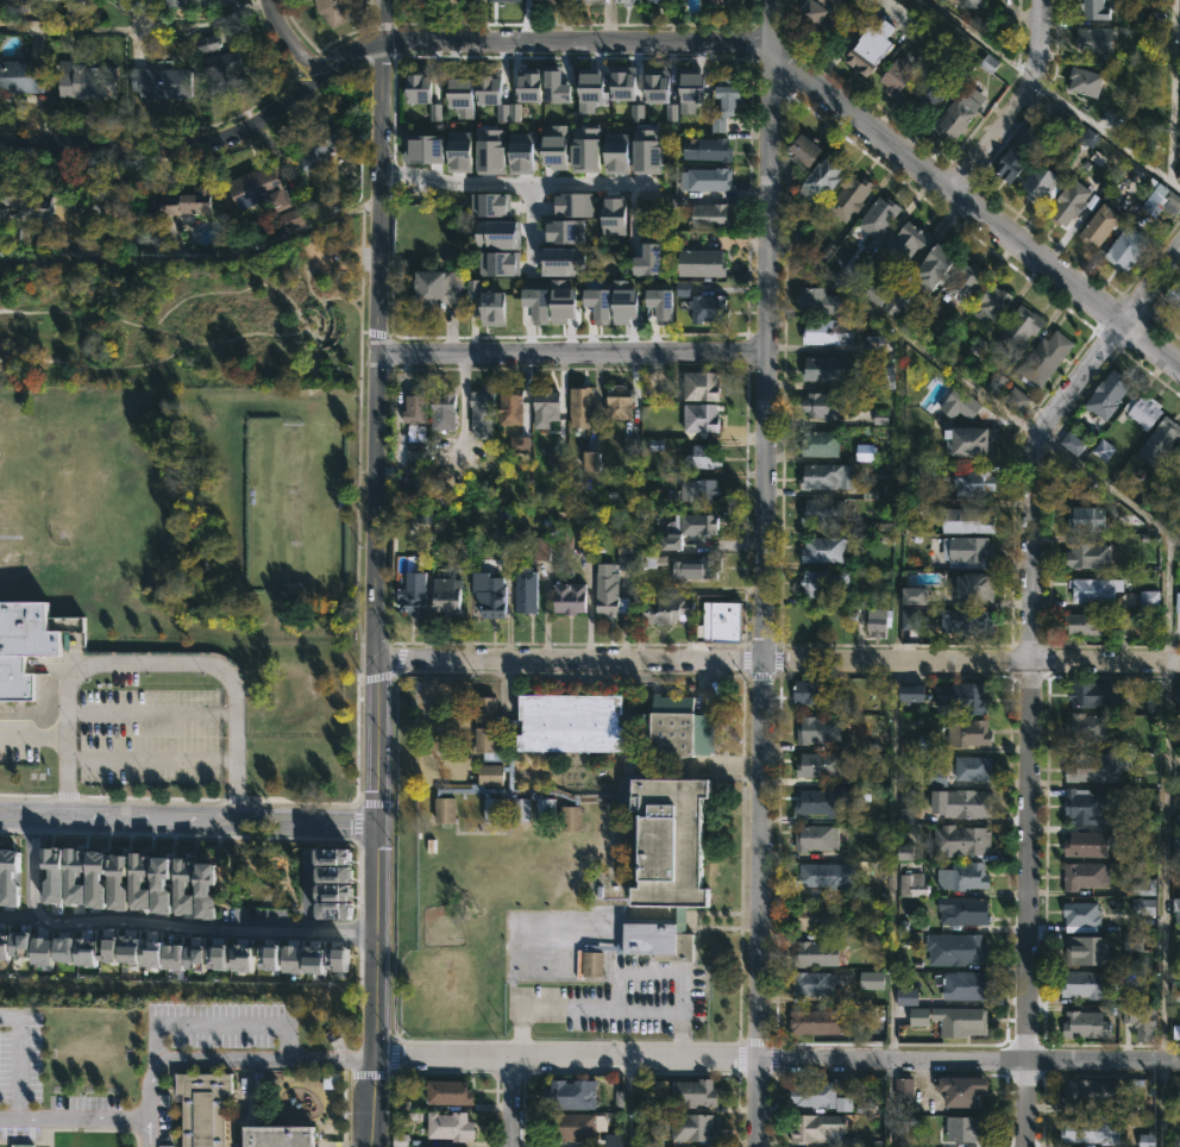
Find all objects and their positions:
building: (550, 1)
building: (591, 1)
building: (626, 1)
building: (658, 1)
building: (170, 2)
building: (717, 2)
building: (180, 4)
building: (972, 4)
building: (134, 5)
building: (915, 6)
building: (1093, 8)
building: (333, 12)
building: (816, 15)
road: (131, 25)
road: (288, 37)
building: (1096, 39)
building: (870, 48)
road: (343, 51)
building: (988, 63)
building: (222, 71)
building: (19, 74)
building: (896, 76)
building: (153, 80)
building: (1085, 80)
building: (83, 81)
building: (622, 83)
building: (657, 86)
road: (822, 87)
road: (1169, 90)
building: (691, 92)
building: (597, 93)
road: (1055, 94)
building: (928, 95)
building: (726, 99)
road: (1017, 100)
building: (636, 112)
building: (671, 112)
building: (959, 113)
building: (1088, 137)
building: (1179, 138)
building: (321, 143)
road: (164, 144)
building: (707, 148)
building: (803, 148)
building: (646, 150)
building: (615, 152)
building: (1017, 152)
building: (795, 175)
building: (820, 177)
building: (705, 178)
building: (1038, 181)
road: (523, 184)
building: (257, 190)
building: (849, 195)
building: (492, 199)
building: (1161, 200)
building: (1069, 201)
building: (183, 202)
building: (106, 203)
road: (527, 203)
building: (21, 207)
building: (613, 214)
building: (710, 214)
building: (878, 215)
building: (291, 218)
building: (1100, 225)
building: (798, 226)
building: (478, 231)
building: (908, 240)
building: (1126, 247)
parking lot: (329, 253)
road: (196, 256)
building: (648, 261)
building: (497, 262)
building: (701, 262)
building: (934, 265)
building: (965, 281)
building: (433, 283)
building: (471, 284)
building: (1173, 294)
building: (489, 299)
building: (886, 299)
building: (624, 300)
building: (533, 301)
building: (818, 301)
building: (991, 302)
road: (321, 303)
building: (598, 303)
building: (661, 303)
building: (707, 307)
park: (187, 315)
road: (165, 319)
building: (1017, 330)
road: (325, 331)
building: (827, 331)
road: (246, 337)
building: (879, 341)
building: (978, 346)
road: (573, 353)
building: (1044, 358)
building: (828, 368)
road: (115, 370)
road: (974, 381)
building: (699, 386)
building: (1107, 394)
building: (1017, 399)
building: (617, 401)
building: (545, 402)
building: (960, 403)
building: (509, 405)
building: (822, 405)
building: (580, 406)
building: (1143, 409)
building: (441, 410)
building: (481, 413)
building: (413, 414)
building: (699, 416)
building: (880, 416)
building: (972, 441)
building: (820, 443)
building: (1072, 443)
building: (1159, 443)
building: (1103, 450)
building: (865, 452)
building: (705, 456)
building: (1178, 462)
building: (826, 476)
building: (971, 481)
building: (1081, 489)
building: (699, 490)
building: (822, 510)
building: (1175, 510)
building: (1086, 518)
building: (967, 520)
road: (764, 529)
building: (686, 531)
building: (623, 546)
building: (822, 550)
building: (965, 551)
building: (1087, 554)
building: (624, 562)
building: (647, 562)
building: (697, 568)
road: (377, 573)
building: (823, 583)
building: (973, 587)
building: (525, 589)
building: (1094, 589)
building: (488, 593)
building: (410, 594)
building: (445, 594)
building: (608, 595)
building: (915, 596)
building: (567, 597)
road: (1167, 597)
building: (1149, 598)
building: (1178, 602)
building: (663, 609)
building: (909, 619)
building: (877, 620)
building: (718, 621)
building: (967, 622)
building: (1086, 625)
building: (20, 645)
road: (570, 658)
road: (972, 659)
road: (152, 660)
road: (1024, 672)
building: (811, 691)
building: (911, 692)
building: (1093, 694)
building: (965, 700)
road: (150, 714)
building: (1086, 727)
building: (817, 728)
building: (968, 733)
road: (33, 735)
road: (150, 760)
building: (820, 764)
building: (1096, 765)
building: (972, 767)
building: (937, 775)
building: (1178, 779)
building: (905, 797)
building: (609, 798)
building: (821, 801)
building: (961, 802)
building: (1088, 806)
building: (905, 815)
road: (186, 821)
building: (816, 836)
building: (961, 840)
building: (1086, 845)
building: (1175, 848)
building: (905, 852)
road: (892, 861)
road: (1165, 861)
road: (33, 870)
building: (1085, 875)
building: (811, 876)
building: (965, 877)
building: (912, 885)
building: (1143, 889)
building: (1143, 907)
building: (965, 911)
road: (21, 916)
building: (1081, 916)
building: (815, 917)
road: (208, 927)
building: (964, 951)
building: (1086, 951)
building: (816, 953)
building: (871, 979)
building: (811, 984)
building: (1086, 984)
building: (965, 985)
building: (906, 997)
building: (918, 1016)
building: (960, 1020)
building: (1140, 1020)
building: (810, 1022)
building: (880, 1022)
building: (1085, 1023)
road: (226, 1027)
road: (565, 1058)
road: (20, 1059)
road: (225, 1061)
road: (968, 1061)
building: (904, 1089)
building: (960, 1089)
building: (447, 1093)
building: (693, 1093)
building: (1086, 1093)
building: (570, 1095)
building: (812, 1095)
building: (619, 1098)
road: (513, 1103)
road: (757, 1103)
road: (890, 1104)
road: (1161, 1104)
building: (202, 1108)
road: (74, 1120)
building: (448, 1126)
building: (572, 1127)
building: (692, 1128)
building: (966, 1129)
building: (822, 1130)
building: (1092, 1130)
building: (277, 1137)
building: (1147, 1140)

